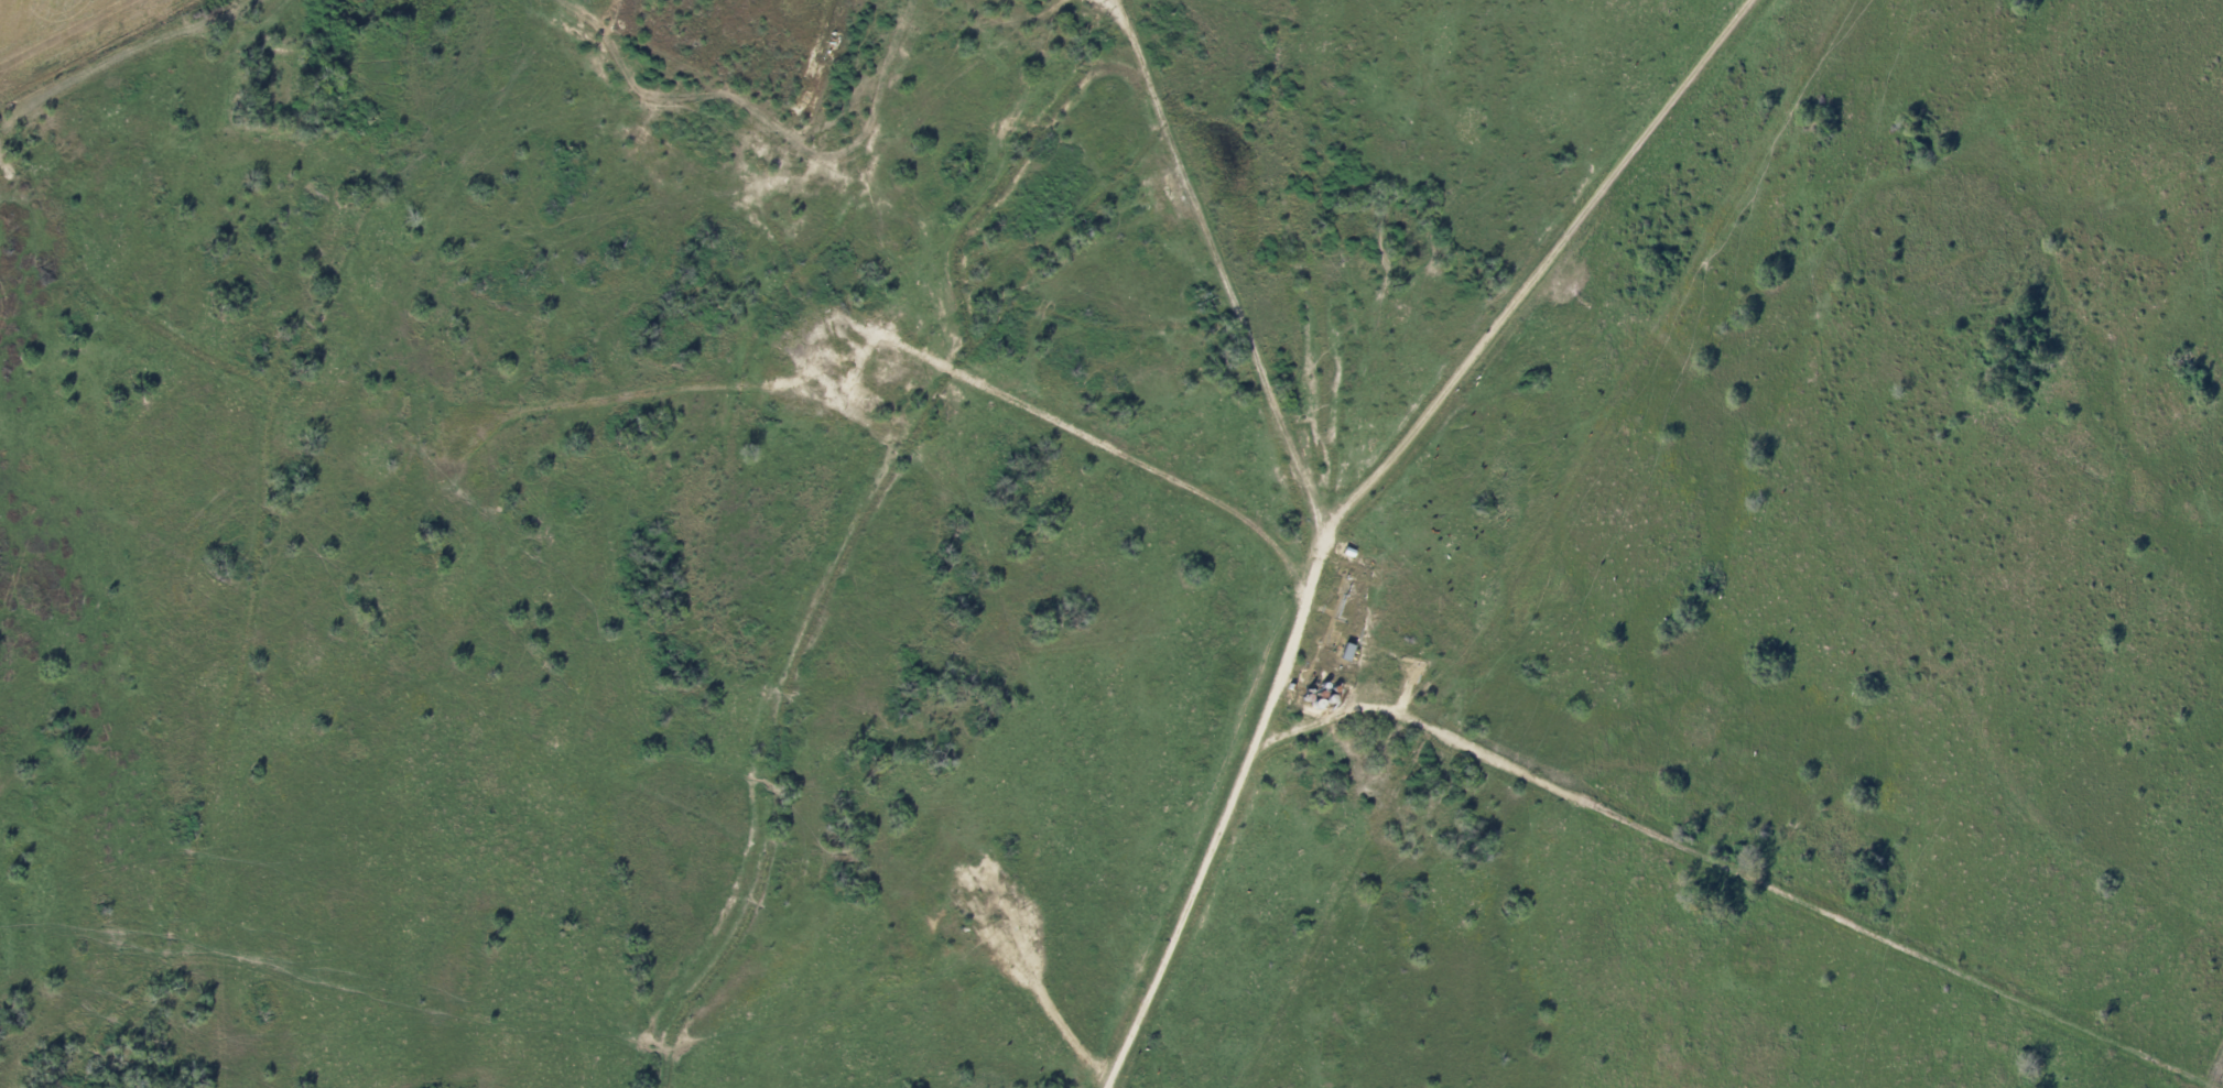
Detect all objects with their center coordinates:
road: (4, 162)
road: (1225, 273)
road: (1477, 355)
road: (1568, 791)

